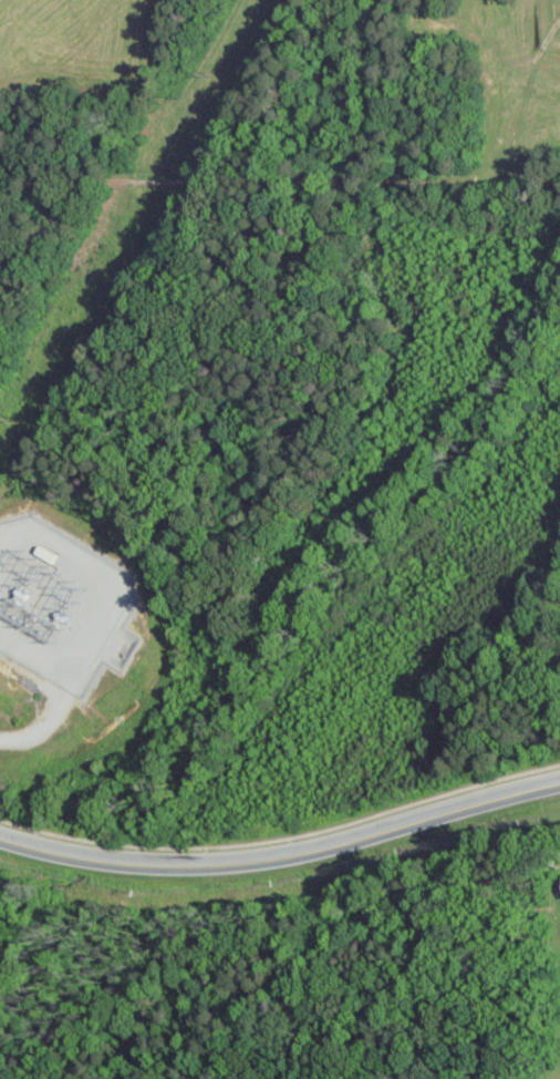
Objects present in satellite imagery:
power tower: (212, 75)
power tower: (17, 418)
power tower: (22, 558)
power substation: (62, 605)
road: (43, 728)
road: (282, 839)
road: (283, 860)

